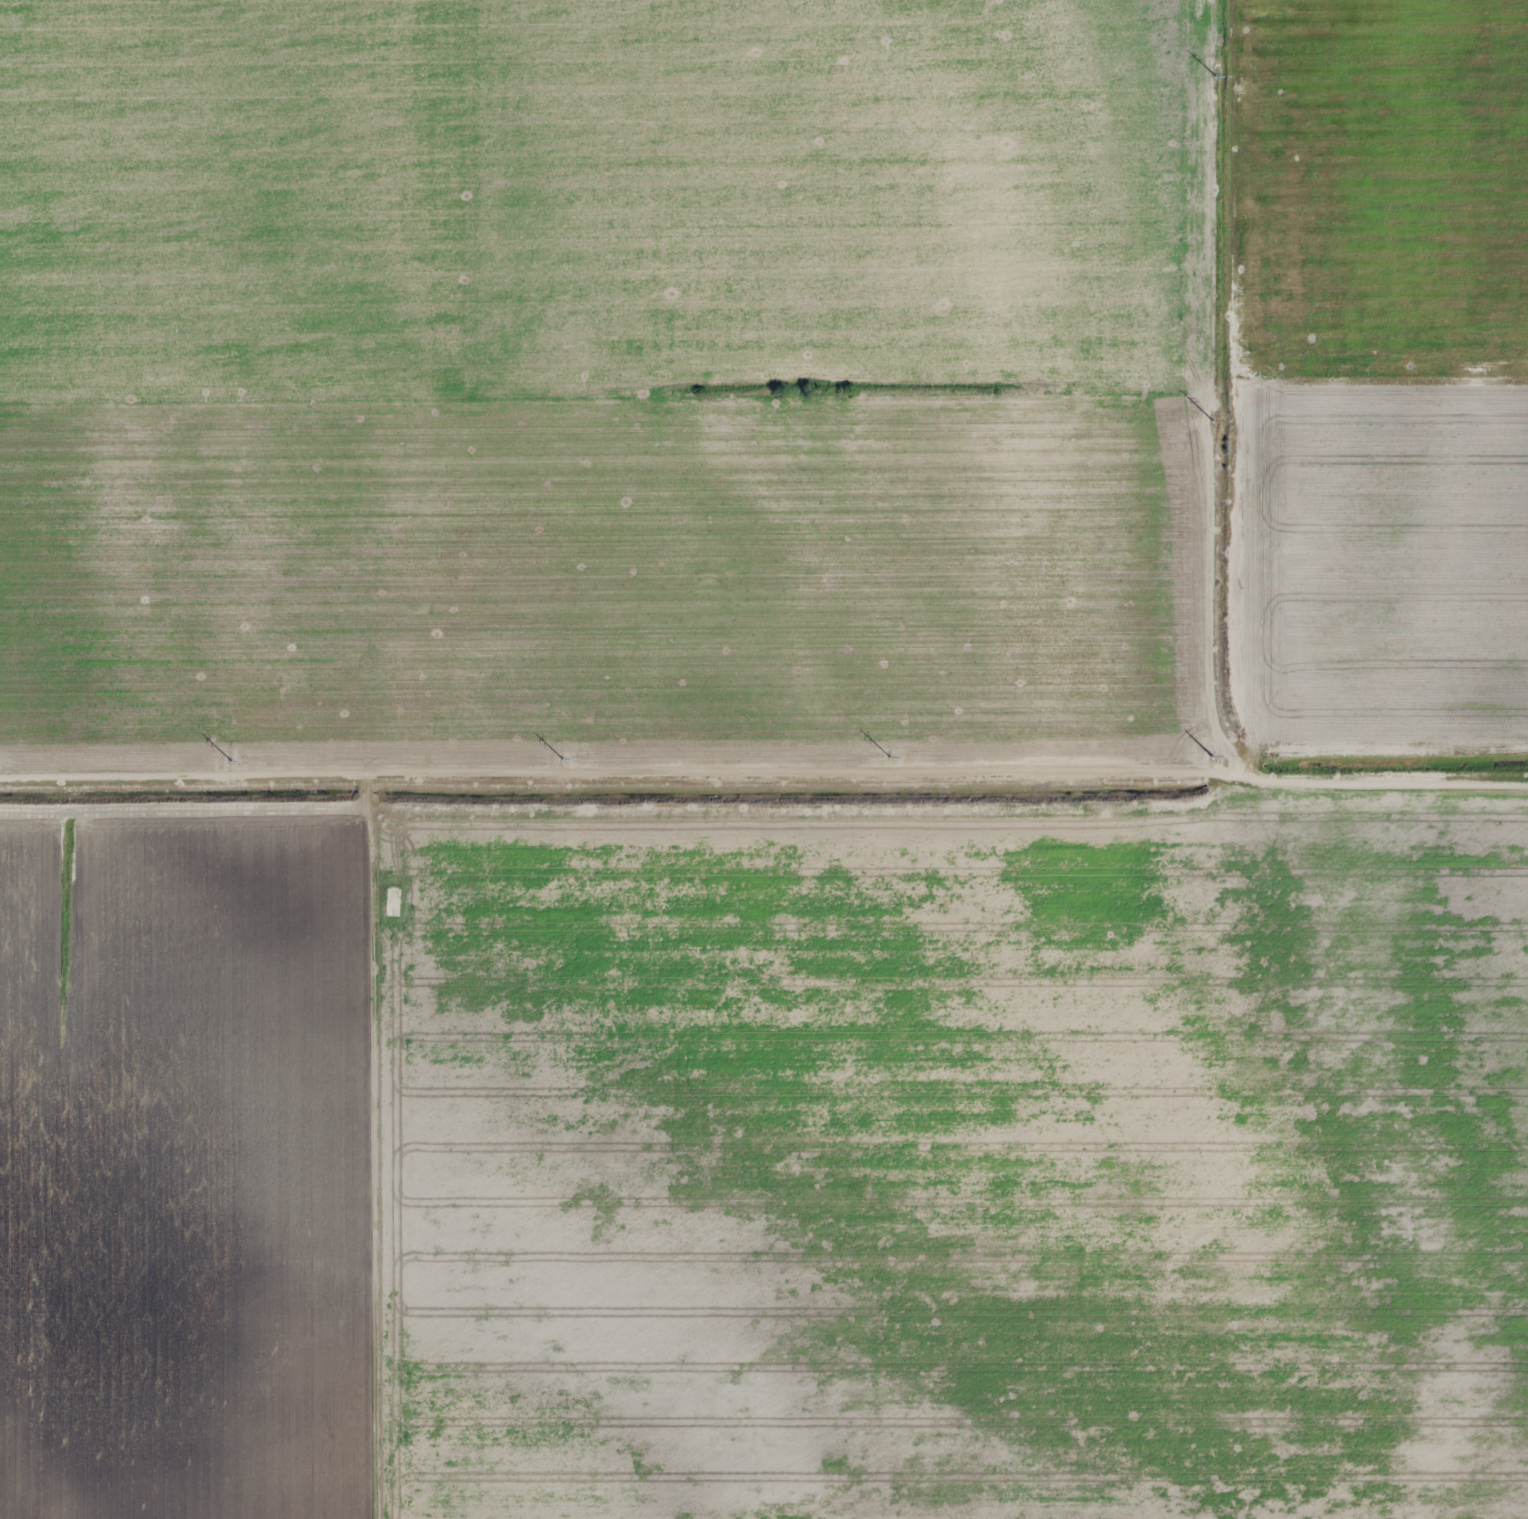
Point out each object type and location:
power tower: (1216, 69)
road: (1233, 389)
power tower: (1218, 414)
power tower: (1218, 758)
power tower: (895, 763)
power tower: (237, 765)
power tower: (568, 765)
road: (764, 779)

